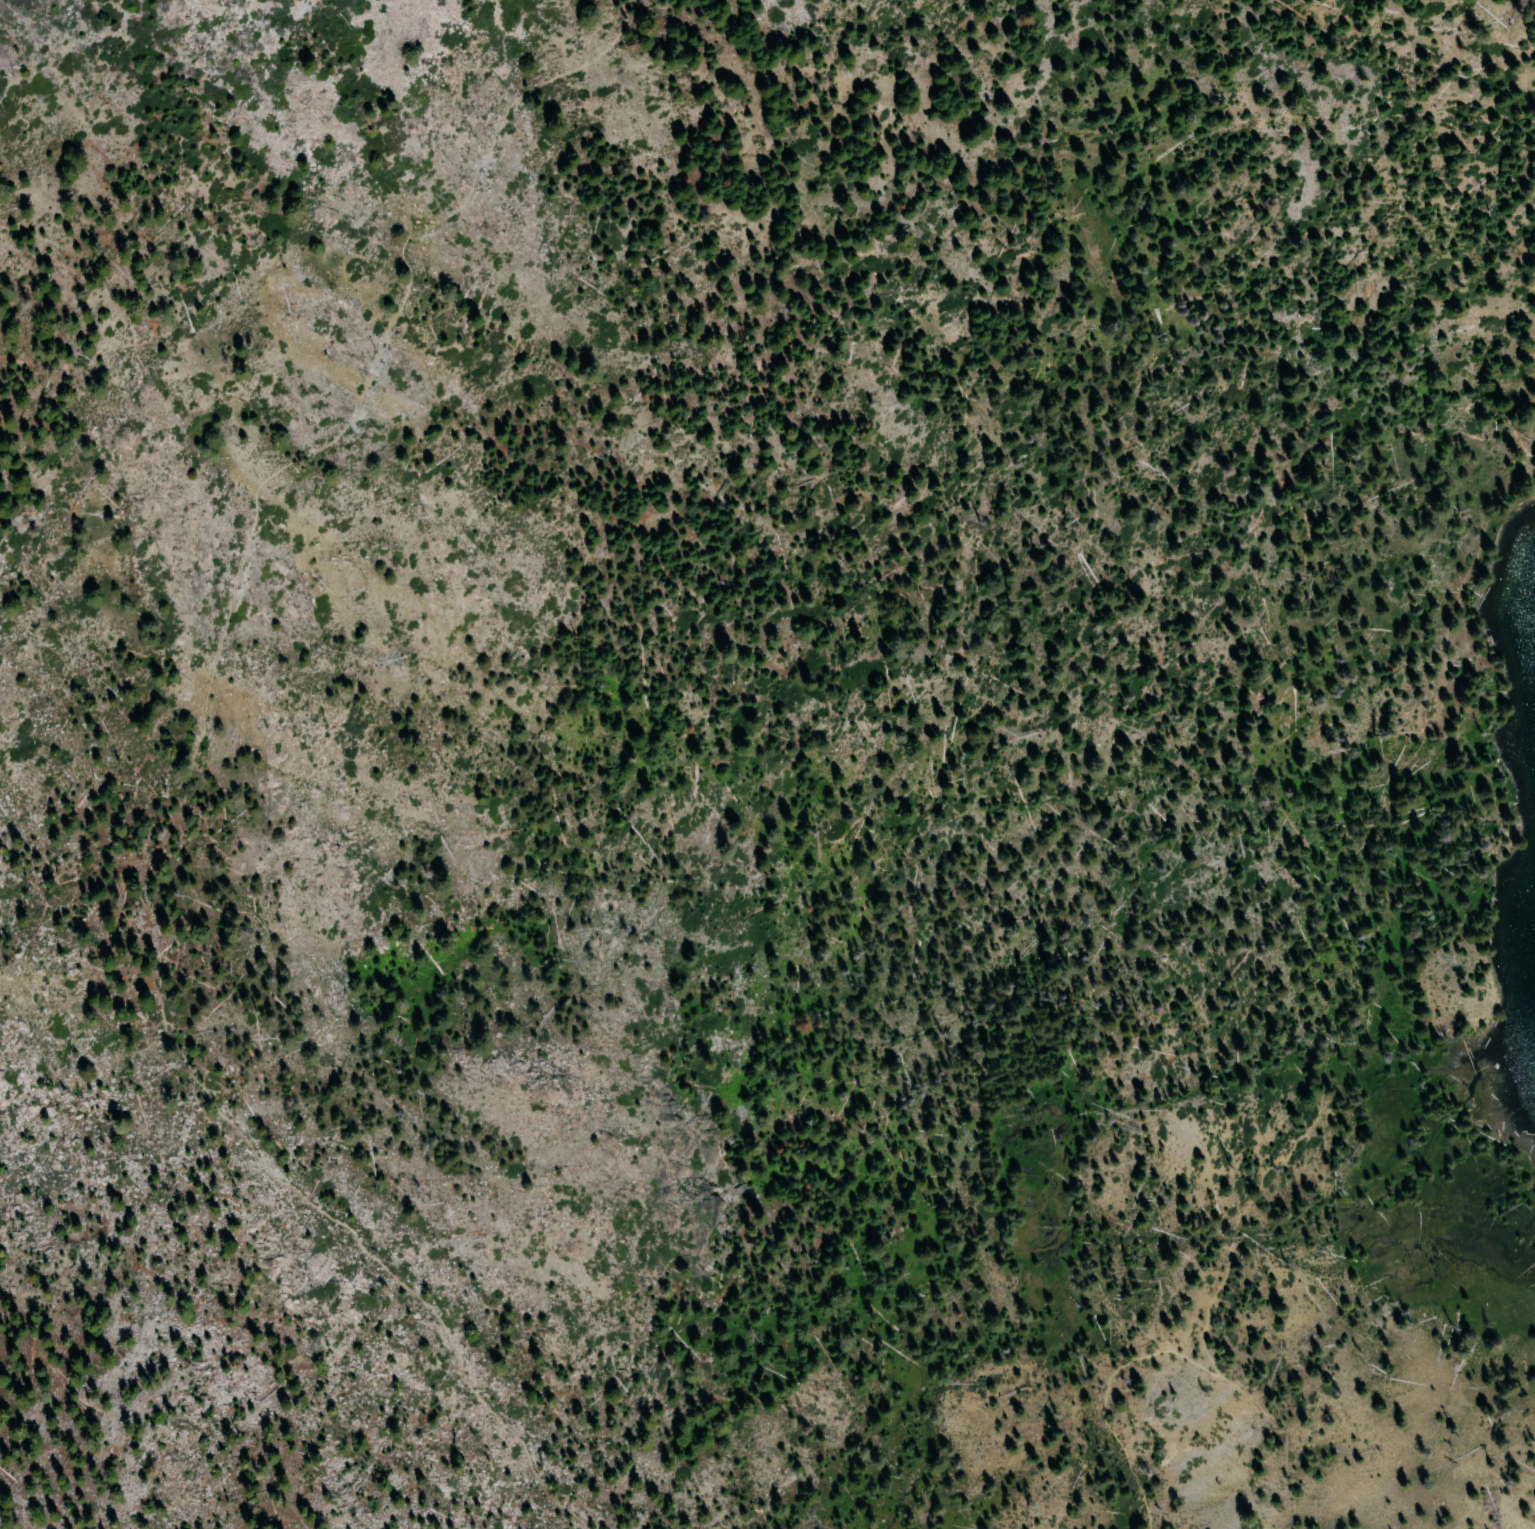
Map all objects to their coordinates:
road: (203, 711)
road: (1336, 1013)

